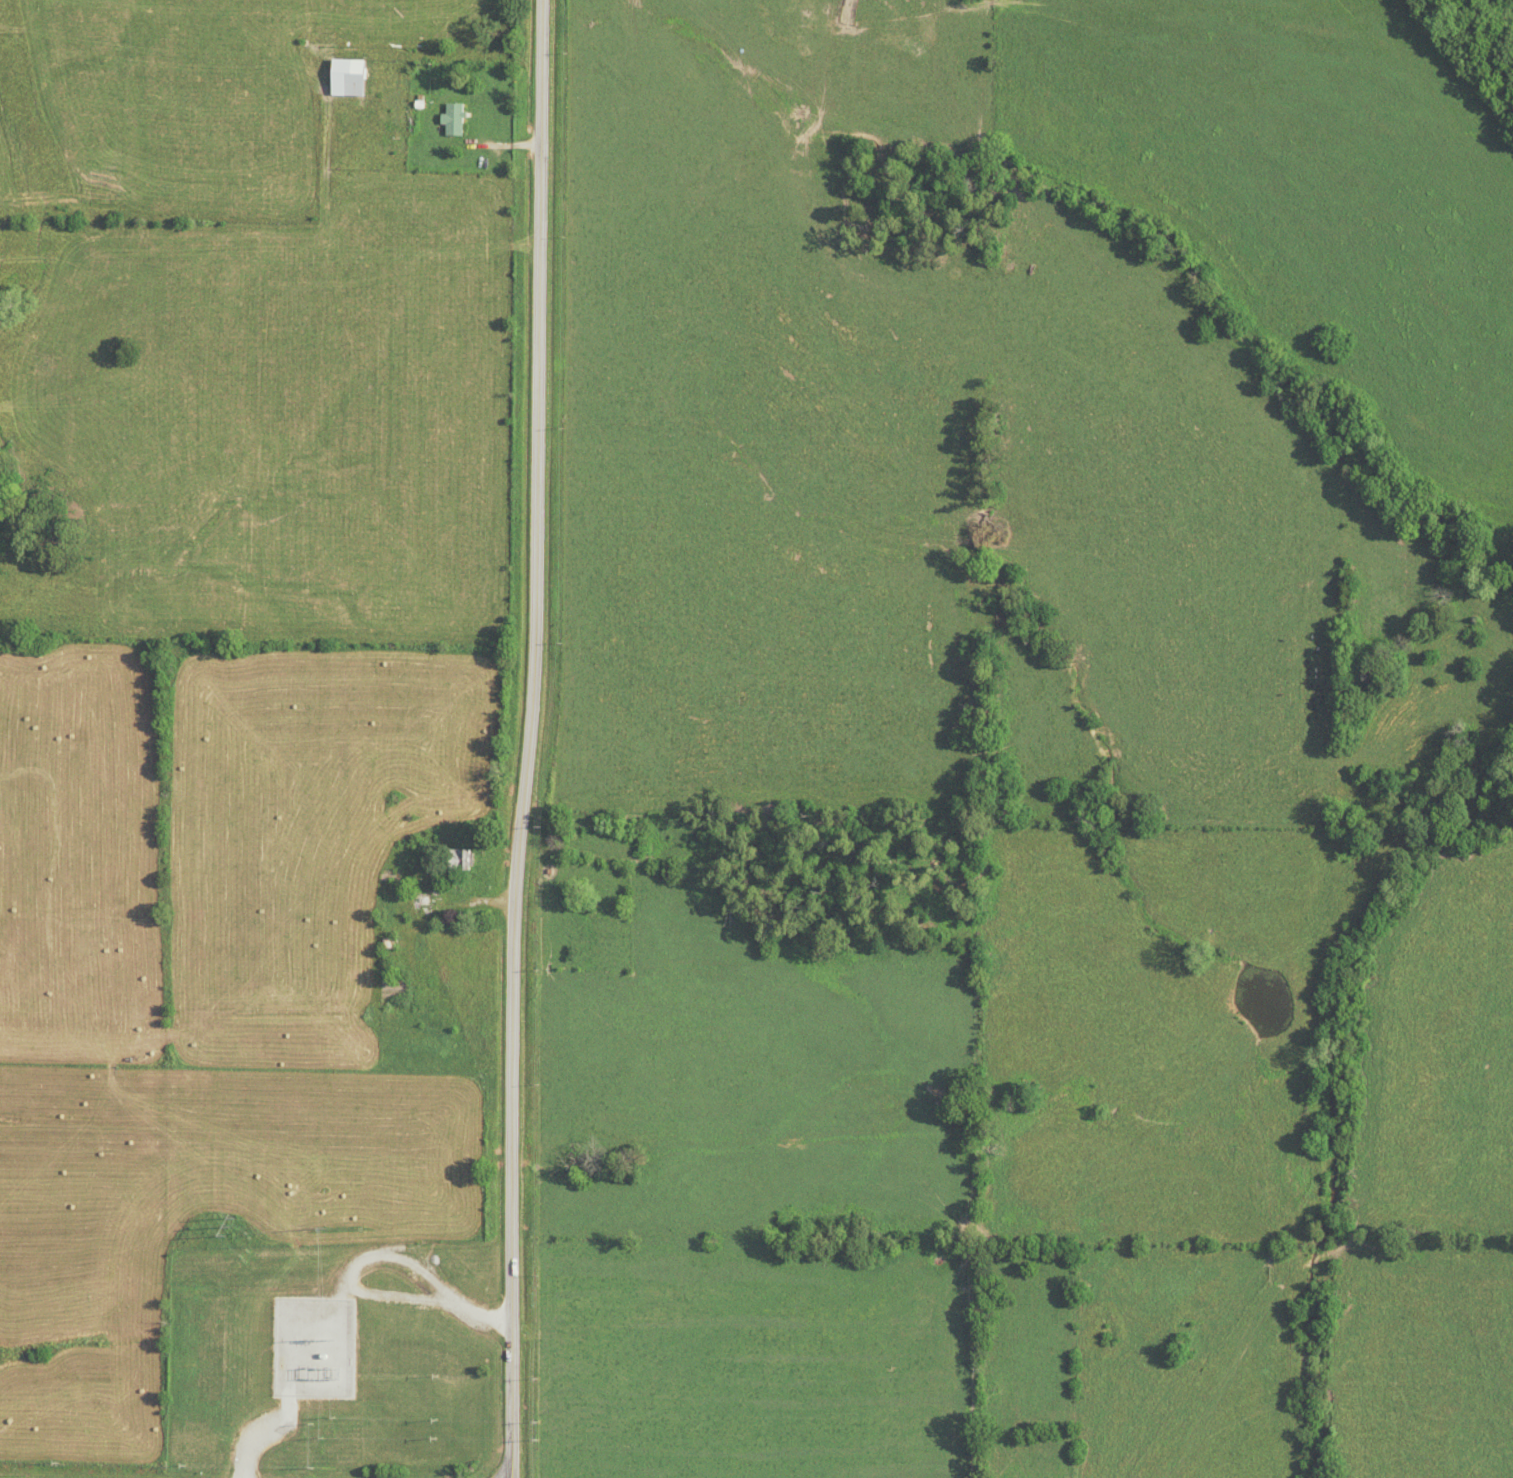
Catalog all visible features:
building: (346, 77)
building: (452, 119)
road: (533, 739)
building: (458, 861)
building: (422, 898)
power tower: (229, 1227)
power tower: (324, 1339)
power substation: (315, 1346)

